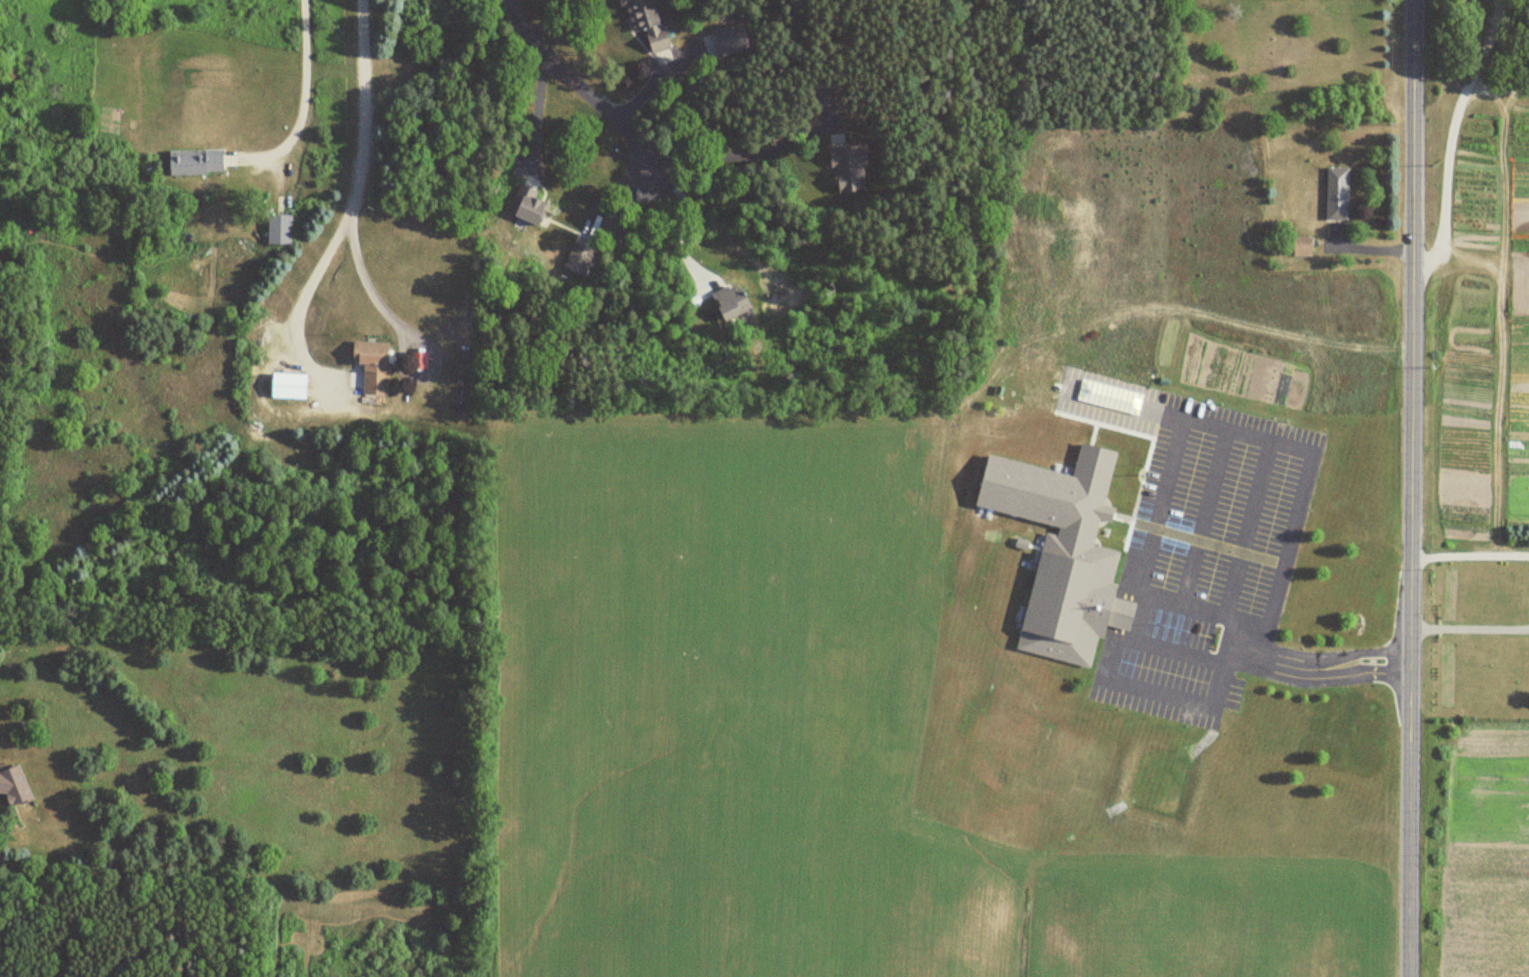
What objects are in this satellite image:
building: (649, 27)
building: (731, 39)
road: (1486, 42)
road: (301, 75)
road: (578, 83)
building: (819, 96)
road: (536, 112)
road: (1449, 151)
road: (744, 155)
building: (193, 162)
building: (848, 170)
road: (362, 171)
building: (1336, 195)
building: (528, 205)
road: (676, 225)
building: (278, 229)
building: (1300, 247)
building: (580, 254)
road: (373, 276)
building: (731, 304)
building: (370, 366)
building: (286, 386)
road: (1207, 482)
road: (1408, 488)
road: (1197, 521)
road: (1468, 555)
road: (1129, 560)
road: (1185, 569)
building: (1070, 593)
road: (1191, 611)
road: (1468, 627)
road: (1370, 651)
road: (1179, 655)
road: (1368, 679)
building: (12, 786)

